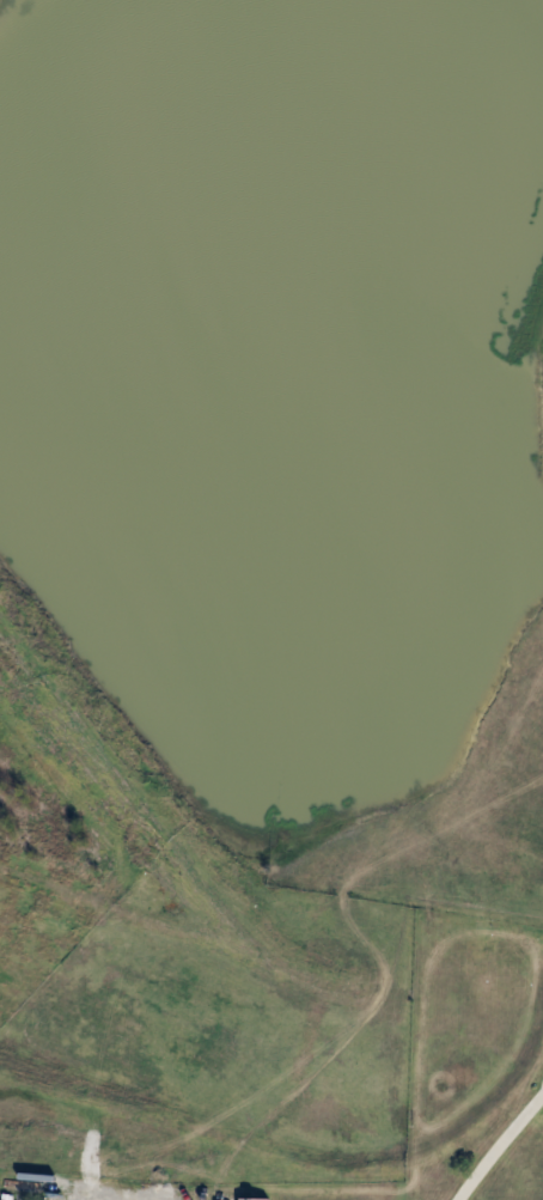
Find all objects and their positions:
road: (499, 1143)
building: (254, 1199)

